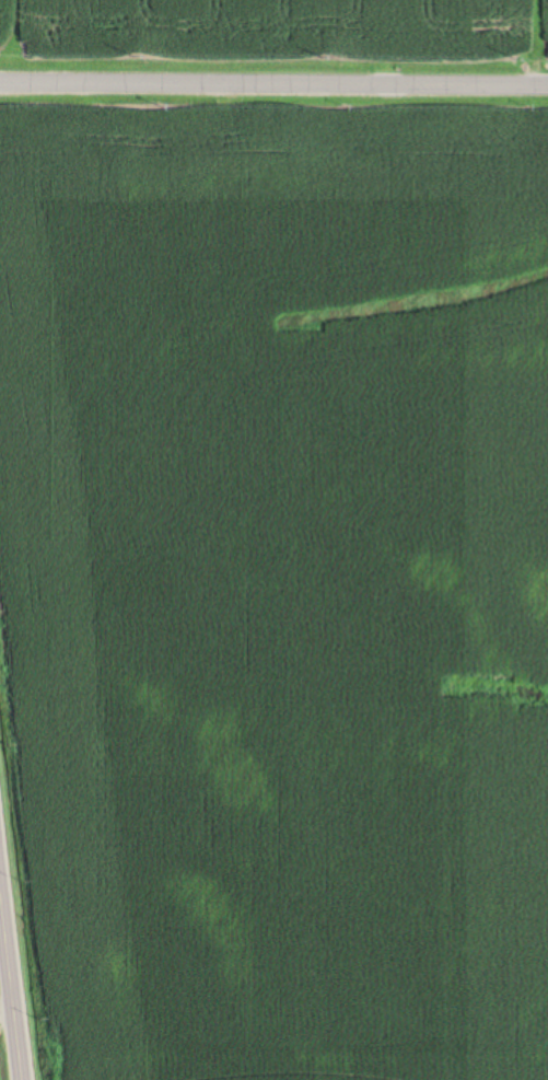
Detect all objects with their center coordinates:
road: (273, 74)
road: (9, 998)
road: (4, 1003)

